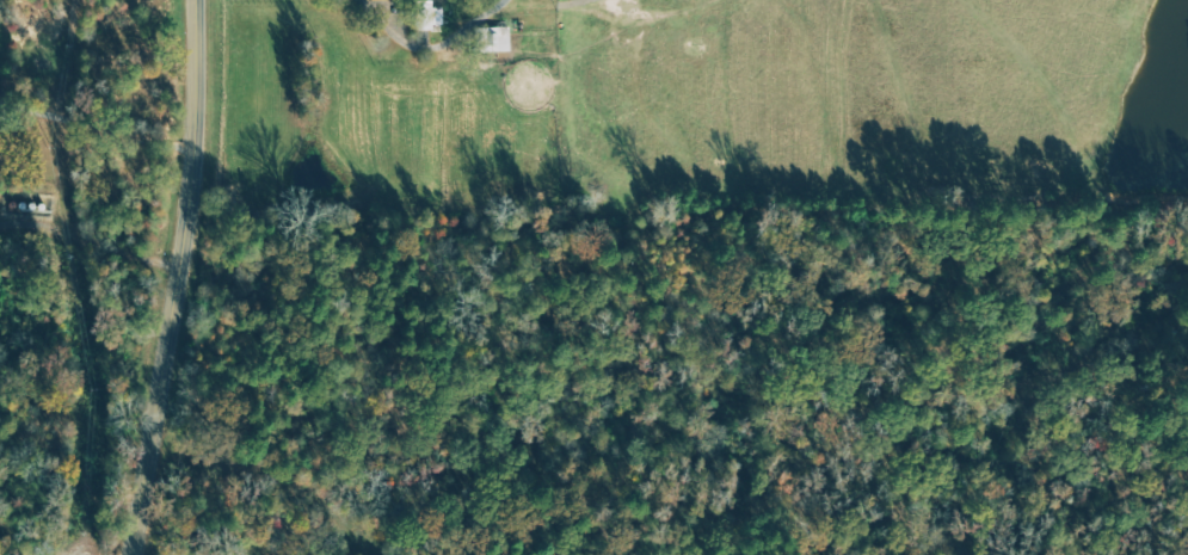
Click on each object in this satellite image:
building: (426, 16)
building: (491, 39)
road: (430, 49)
road: (94, 127)
road: (170, 278)

